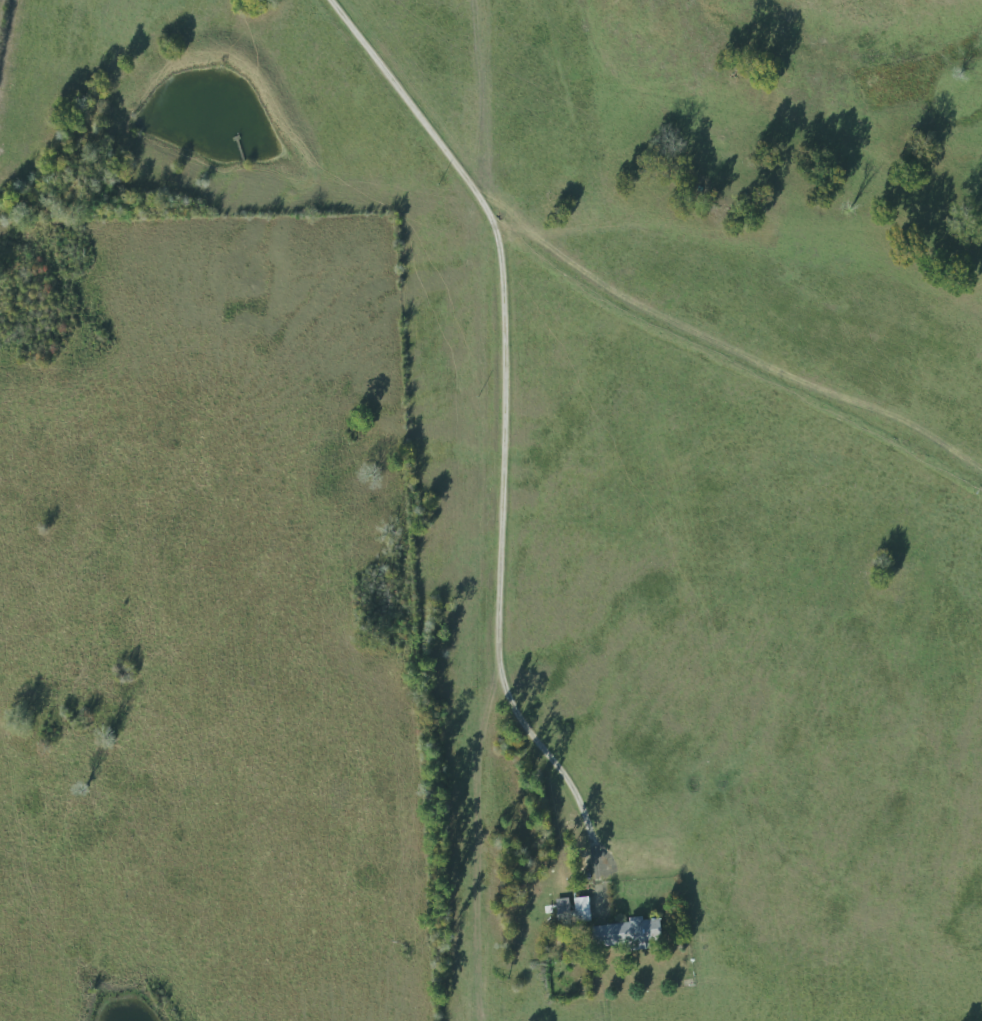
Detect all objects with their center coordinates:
road: (501, 423)
building: (577, 909)
building: (622, 932)

